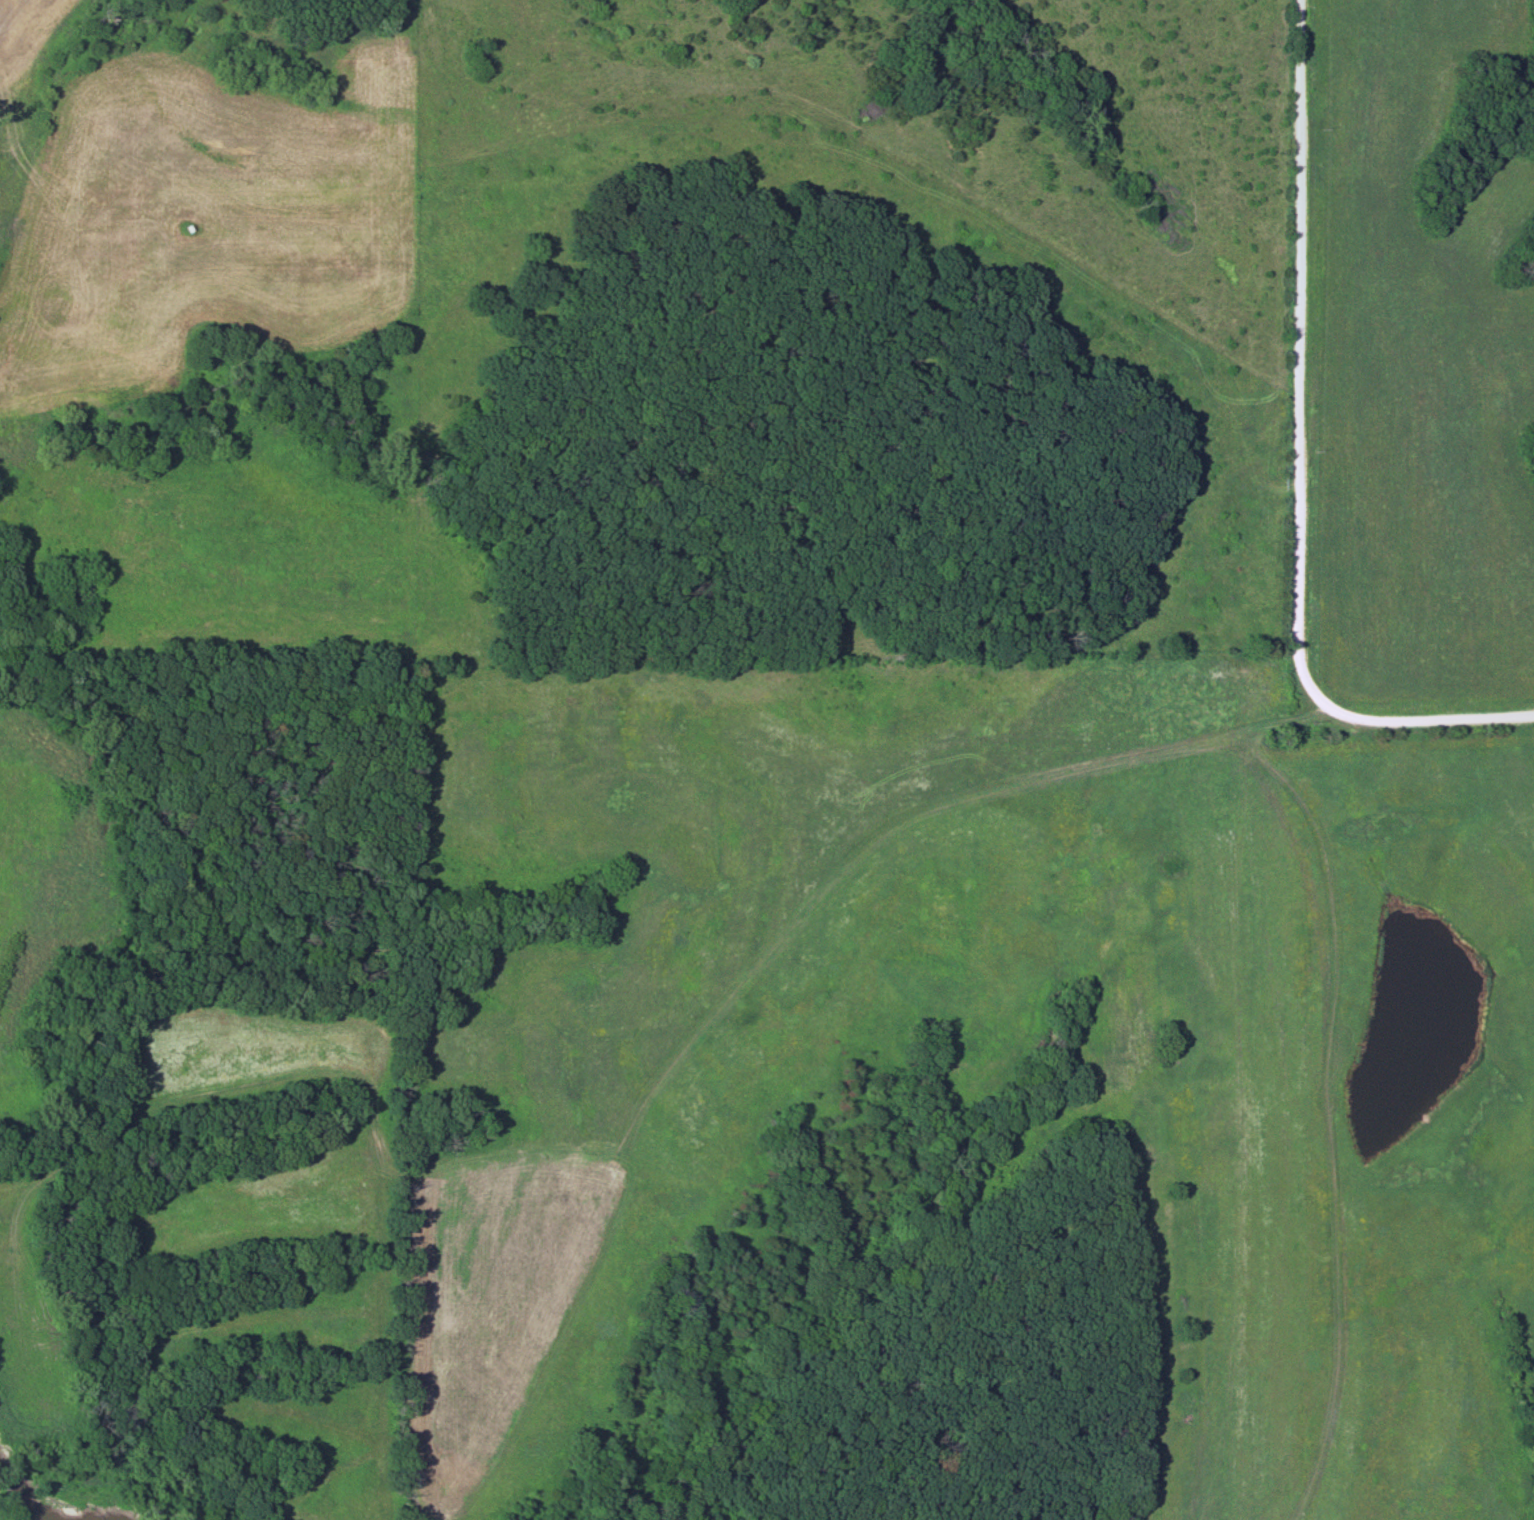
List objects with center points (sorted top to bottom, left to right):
road: (1304, 457)

